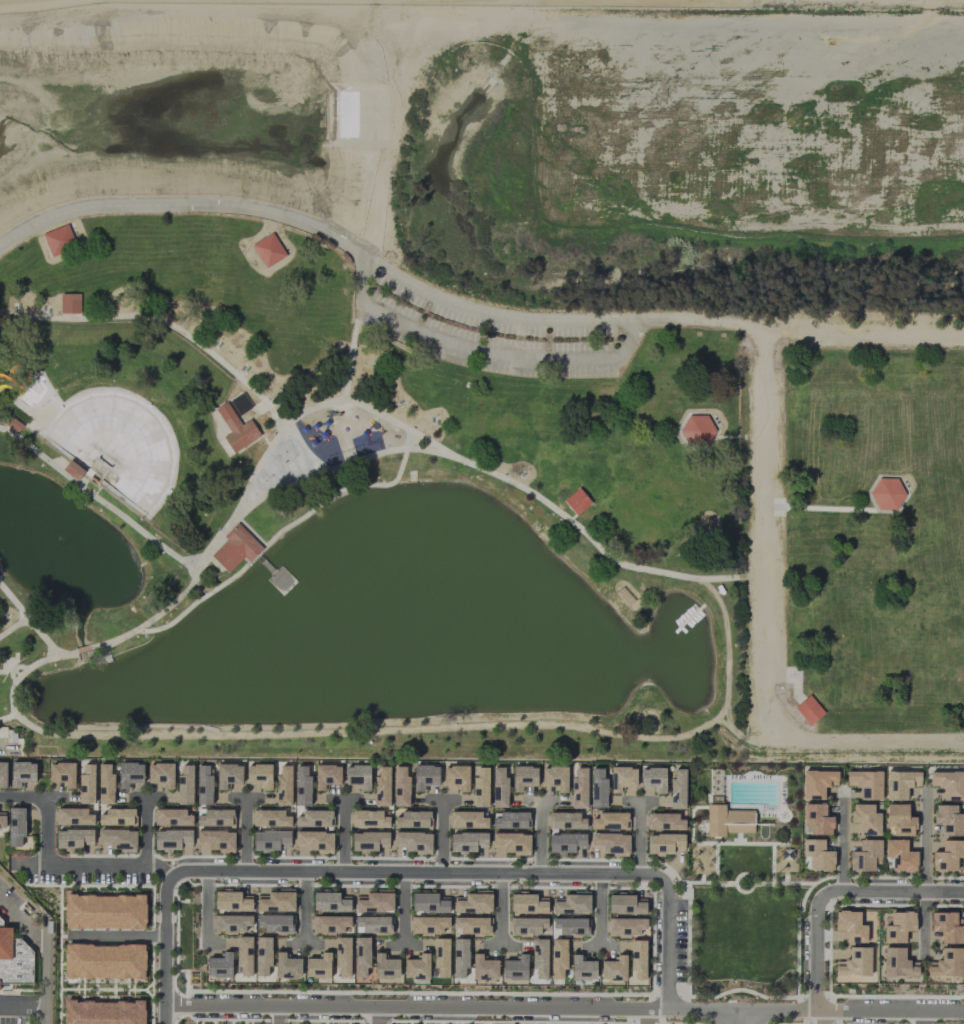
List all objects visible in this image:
building: (58, 240)
building: (267, 250)
road: (365, 256)
building: (69, 303)
road: (865, 320)
road: (751, 321)
parking lot: (496, 337)
road: (203, 346)
road: (350, 351)
road: (477, 353)
park: (483, 382)
road: (364, 406)
building: (236, 427)
building: (697, 430)
road: (409, 439)
road: (346, 464)
building: (886, 493)
road: (100, 500)
building: (576, 501)
road: (273, 537)
building: (235, 548)
road: (194, 556)
road: (13, 602)
road: (32, 625)
road: (769, 628)
building: (808, 710)
road: (30, 725)
road: (460, 727)
building: (7, 735)
building: (21, 773)
building: (61, 773)
building: (3, 774)
building: (129, 774)
building: (161, 774)
building: (228, 775)
building: (259, 775)
building: (326, 775)
building: (358, 776)
building: (425, 776)
building: (456, 777)
building: (523, 777)
building: (554, 778)
building: (622, 778)
building: (653, 779)
building: (86, 783)
building: (817, 783)
building: (865, 783)
building: (105, 784)
building: (900, 784)
building: (948, 784)
building: (185, 785)
building: (203, 785)
building: (283, 785)
building: (302, 786)
building: (381, 786)
building: (715, 786)
building: (400, 787)
building: (480, 787)
building: (499, 787)
building: (578, 788)
building: (597, 788)
building: (677, 789)
building: (73, 816)
building: (116, 817)
building: (172, 817)
building: (215, 817)
building: (271, 818)
building: (313, 818)
building: (370, 819)
building: (412, 819)
building: (816, 819)
building: (864, 819)
building: (899, 819)
building: (2, 820)
building: (468, 820)
building: (509, 820)
building: (566, 820)
building: (726, 820)
building: (947, 820)
building: (609, 821)
building: (663, 821)
building: (16, 826)
road: (143, 831)
road: (244, 834)
road: (342, 834)
road: (441, 836)
road: (539, 836)
road: (637, 837)
road: (737, 837)
building: (74, 838)
road: (841, 838)
building: (172, 839)
road: (924, 839)
building: (117, 840)
building: (215, 840)
building: (271, 840)
building: (369, 841)
building: (313, 842)
building: (413, 842)
building: (468, 842)
road: (697, 842)
building: (567, 843)
building: (610, 843)
building: (664, 843)
road: (763, 843)
building: (510, 844)
building: (816, 855)
building: (865, 855)
building: (899, 855)
building: (947, 855)
road: (52, 864)
road: (405, 872)
road: (744, 873)
road: (699, 882)
road: (797, 883)
road: (834, 891)
building: (276, 900)
building: (232, 901)
building: (330, 901)
building: (374, 901)
building: (429, 902)
building: (473, 902)
building: (528, 903)
building: (571, 903)
building: (626, 904)
road: (303, 907)
road: (676, 907)
road: (401, 908)
road: (499, 908)
road: (599, 909)
building: (104, 911)
road: (205, 911)
building: (232, 922)
building: (273, 923)
building: (330, 924)
building: (373, 924)
building: (428, 924)
road: (923, 924)
building: (471, 925)
building: (527, 925)
building: (569, 925)
building: (850, 926)
building: (897, 926)
building: (946, 926)
building: (627, 927)
road: (115, 936)
road: (42, 952)
building: (244, 955)
building: (262, 955)
building: (342, 956)
building: (361, 956)
building: (635, 956)
building: (441, 957)
building: (539, 957)
building: (558, 957)
building: (460, 958)
building: (14, 960)
building: (104, 961)
building: (855, 962)
building: (896, 963)
building: (946, 963)
building: (219, 965)
building: (287, 966)
building: (318, 966)
building: (385, 967)
building: (483, 967)
building: (515, 968)
building: (582, 968)
building: (417, 969)
building: (613, 969)
building: (853, 978)
road: (744, 989)
road: (20, 997)
road: (676, 1002)
road: (805, 1003)
road: (413, 1008)
road: (743, 1009)
building: (103, 1011)
road: (893, 1011)
road: (276, 1015)
road: (377, 1016)
road: (644, 1016)
road: (727, 1016)
road: (749, 1017)
road: (821, 1017)
road: (920, 1017)

